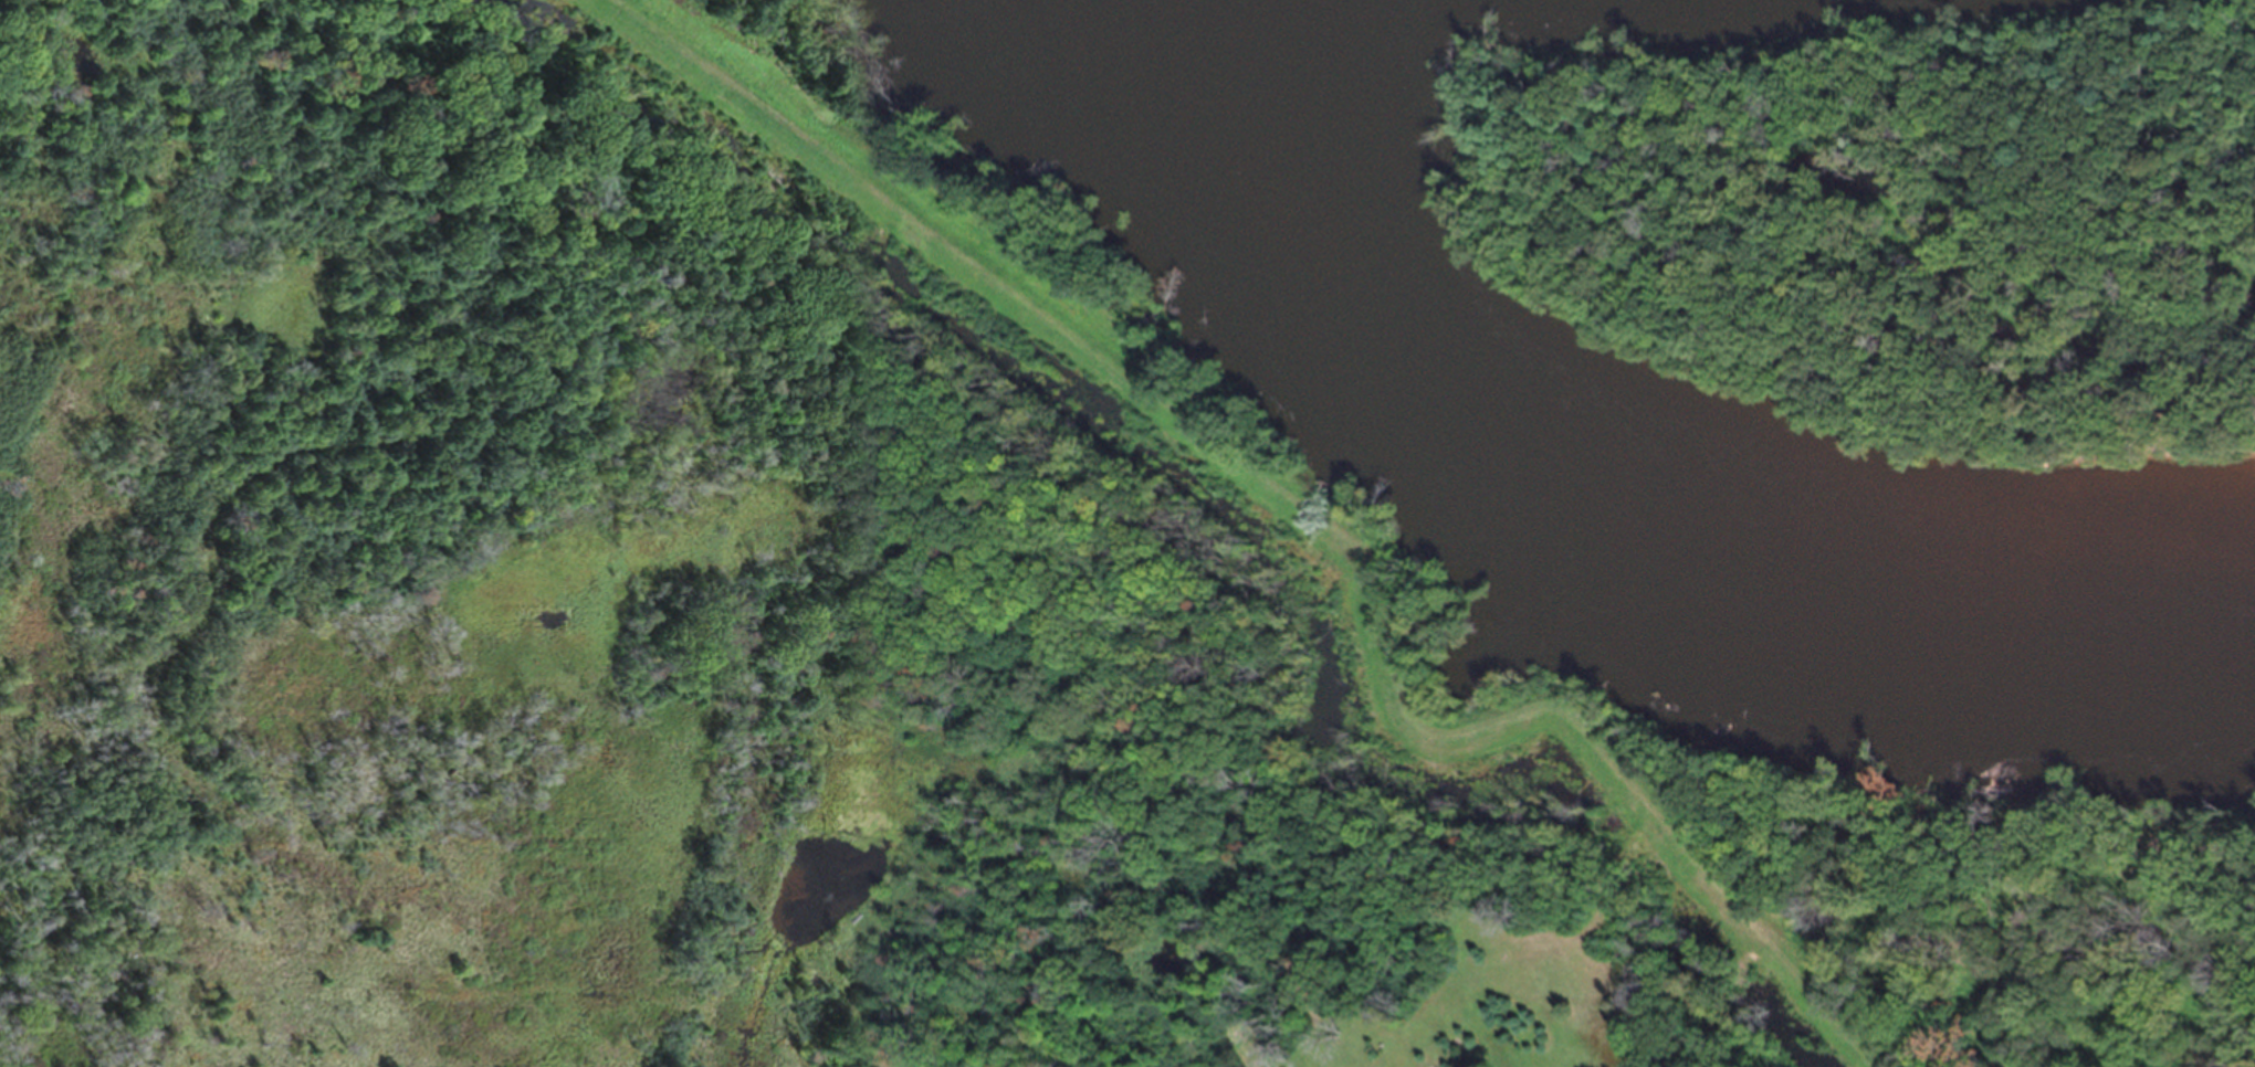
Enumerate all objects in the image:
river: (1582, 499)
road: (1305, 511)

